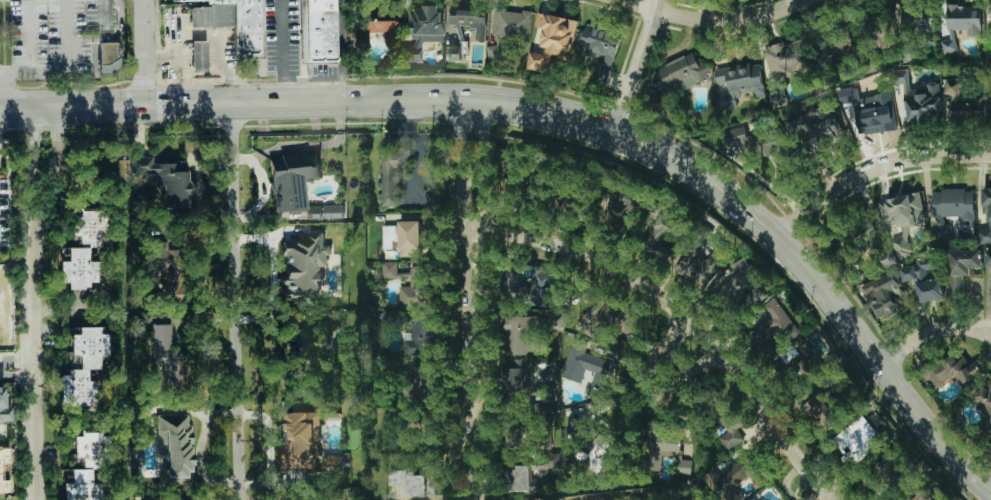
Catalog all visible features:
road: (103, 13)
building: (990, 15)
building: (918, 19)
building: (470, 21)
building: (231, 22)
road: (715, 22)
building: (961, 24)
building: (374, 27)
building: (508, 30)
building: (318, 31)
building: (419, 31)
road: (27, 36)
building: (458, 36)
road: (110, 39)
road: (215, 40)
building: (553, 41)
road: (340, 46)
road: (143, 47)
road: (282, 47)
building: (599, 50)
building: (108, 51)
building: (836, 51)
building: (454, 53)
building: (988, 54)
building: (198, 55)
building: (787, 59)
road: (639, 61)
road: (176, 62)
road: (67, 69)
building: (683, 73)
building: (738, 82)
road: (4, 86)
traffic signals: (145, 96)
building: (920, 99)
building: (962, 104)
road: (573, 111)
building: (815, 125)
road: (417, 144)
road: (876, 171)
building: (392, 176)
building: (166, 182)
building: (297, 185)
building: (953, 204)
building: (620, 209)
building: (903, 218)
building: (986, 218)
building: (665, 228)
building: (389, 235)
building: (413, 238)
building: (79, 246)
building: (988, 258)
building: (305, 266)
building: (700, 266)
building: (961, 267)
building: (924, 277)
building: (740, 279)
building: (411, 286)
building: (884, 294)
road: (470, 296)
building: (545, 296)
road: (237, 297)
road: (34, 298)
building: (752, 299)
road: (684, 317)
building: (608, 318)
building: (556, 319)
building: (771, 321)
road: (934, 333)
building: (423, 337)
building: (89, 345)
building: (168, 361)
road: (17, 364)
building: (586, 366)
building: (952, 370)
building: (516, 381)
building: (423, 384)
building: (78, 390)
road: (646, 393)
building: (985, 397)
building: (814, 410)
road: (1, 432)
building: (731, 433)
building: (299, 441)
building: (858, 441)
building: (660, 443)
building: (989, 447)
building: (174, 448)
road: (201, 448)
building: (598, 450)
building: (333, 461)
building: (685, 467)
building: (85, 470)
building: (728, 477)
building: (533, 480)
building: (408, 481)

